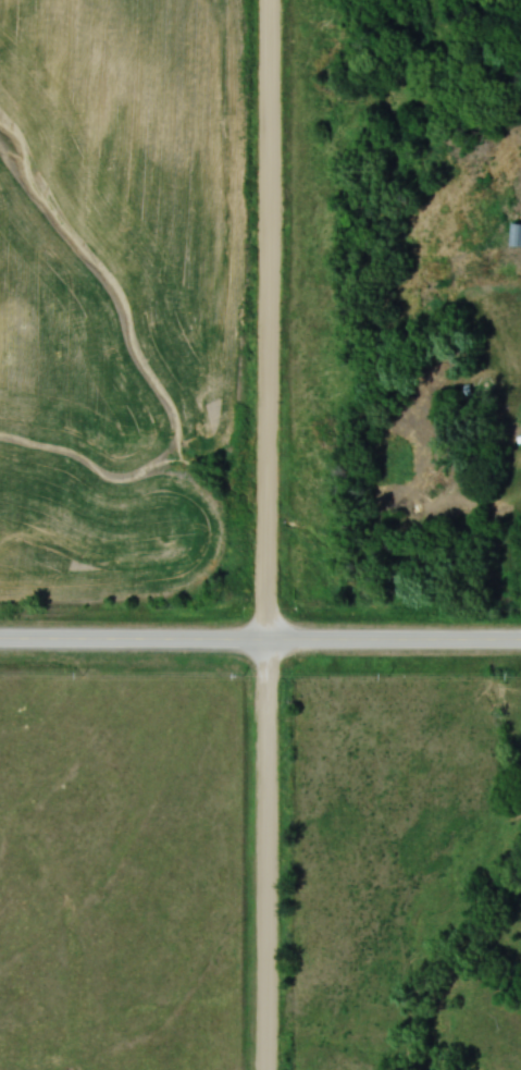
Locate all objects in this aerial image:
building: (517, 232)
road: (268, 534)
road: (260, 644)

